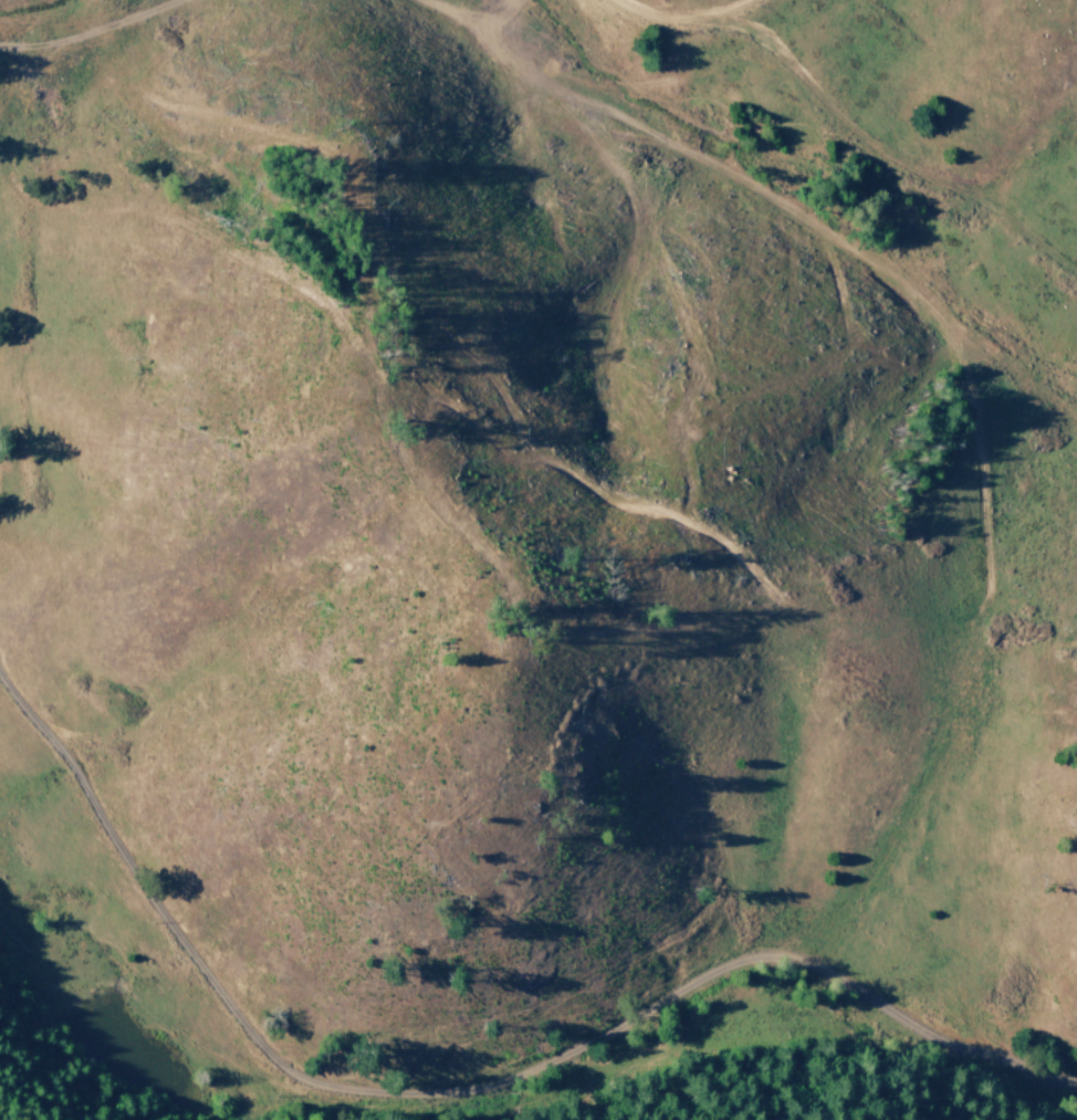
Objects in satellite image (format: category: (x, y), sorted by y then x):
road: (460, 1099)

